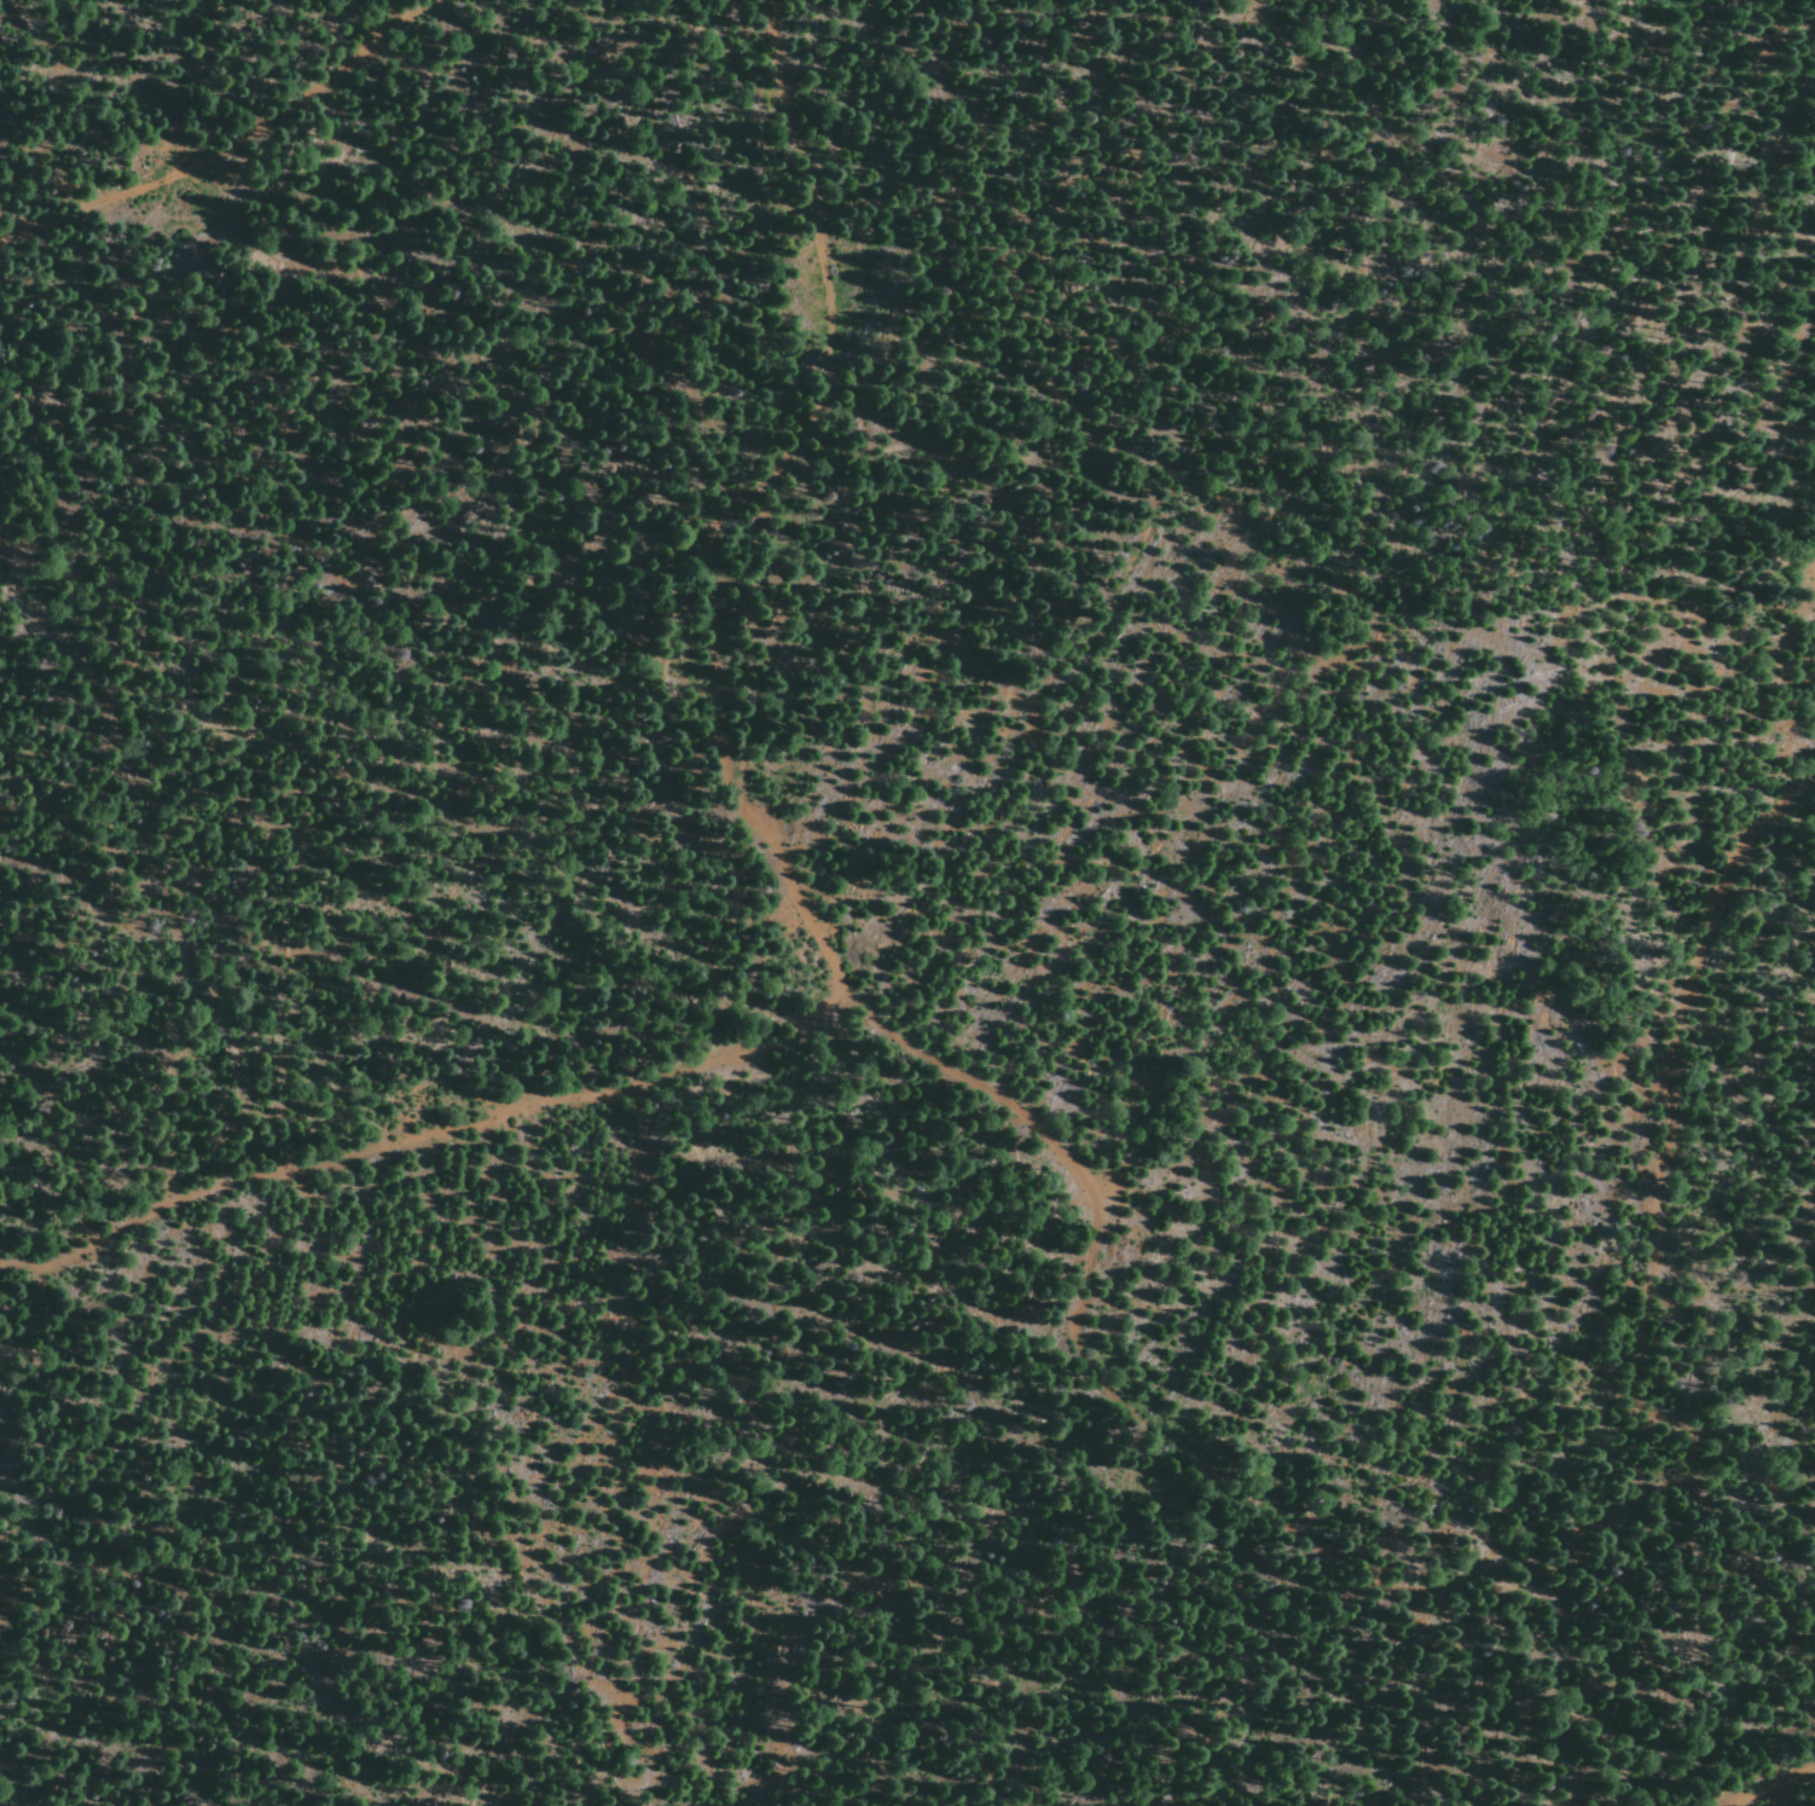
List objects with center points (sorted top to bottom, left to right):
road: (1775, 1784)

